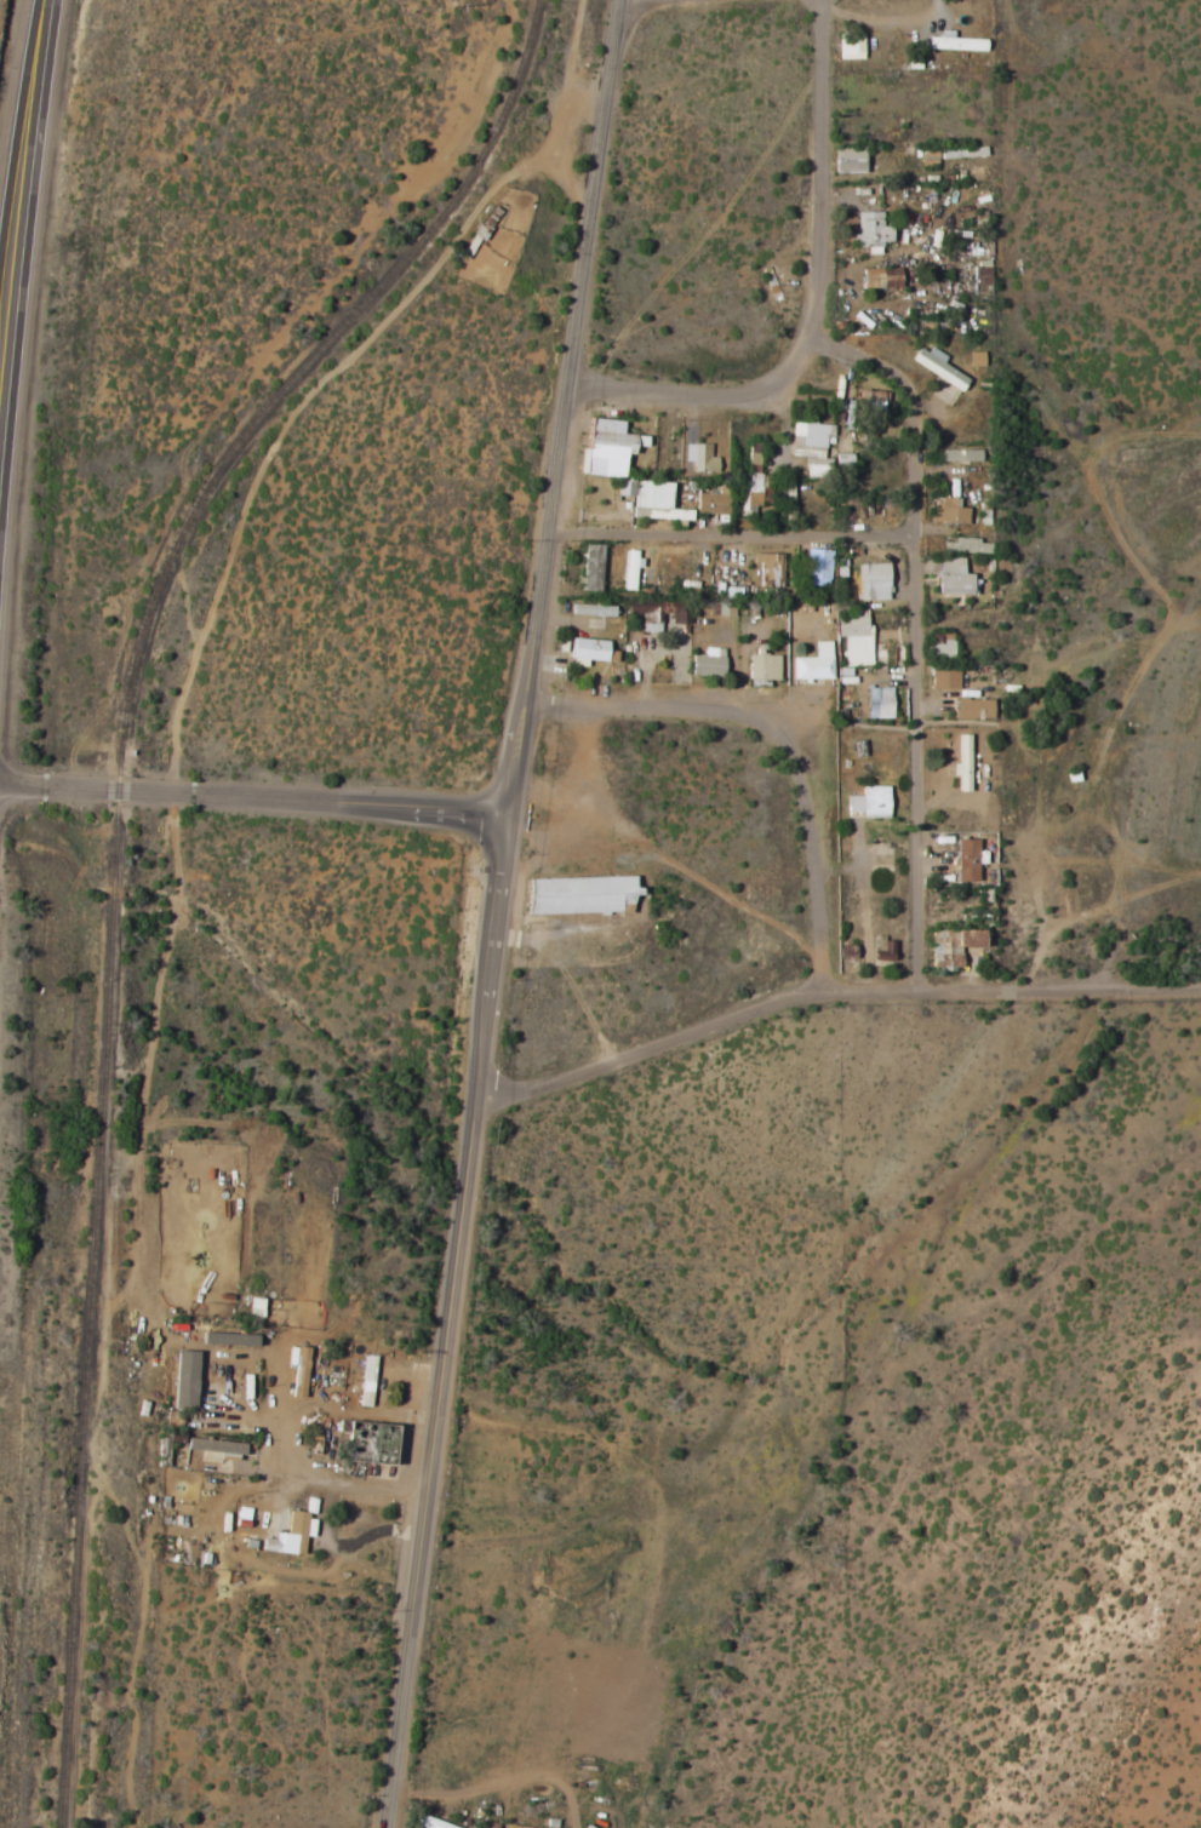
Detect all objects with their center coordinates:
road: (645, 1)
building: (953, 42)
building: (850, 46)
building: (961, 153)
building: (927, 159)
building: (846, 160)
road: (21, 185)
building: (869, 230)
building: (879, 277)
road: (819, 303)
road: (847, 357)
building: (974, 359)
building: (936, 367)
building: (870, 401)
building: (607, 447)
building: (811, 447)
building: (754, 454)
building: (957, 455)
building: (700, 458)
building: (623, 488)
building: (749, 493)
building: (657, 502)
building: (710, 504)
building: (948, 510)
road: (738, 543)
building: (965, 546)
building: (591, 567)
building: (817, 567)
building: (629, 568)
building: (767, 569)
building: (951, 577)
building: (873, 580)
road: (919, 589)
building: (731, 591)
building: (725, 608)
building: (590, 611)
building: (650, 619)
building: (679, 620)
building: (854, 638)
building: (585, 651)
building: (939, 653)
building: (707, 663)
building: (813, 664)
building: (761, 667)
building: (944, 680)
building: (877, 703)
building: (972, 709)
road: (784, 752)
building: (961, 763)
road: (256, 796)
building: (868, 801)
railway: (115, 850)
building: (966, 859)
building: (578, 895)
road: (917, 911)
road: (501, 912)
road: (831, 1008)
building: (255, 1307)
building: (228, 1339)
building: (301, 1371)
building: (183, 1379)
building: (365, 1381)
building: (213, 1446)
road: (305, 1495)
building: (290, 1535)
building: (425, 1822)

